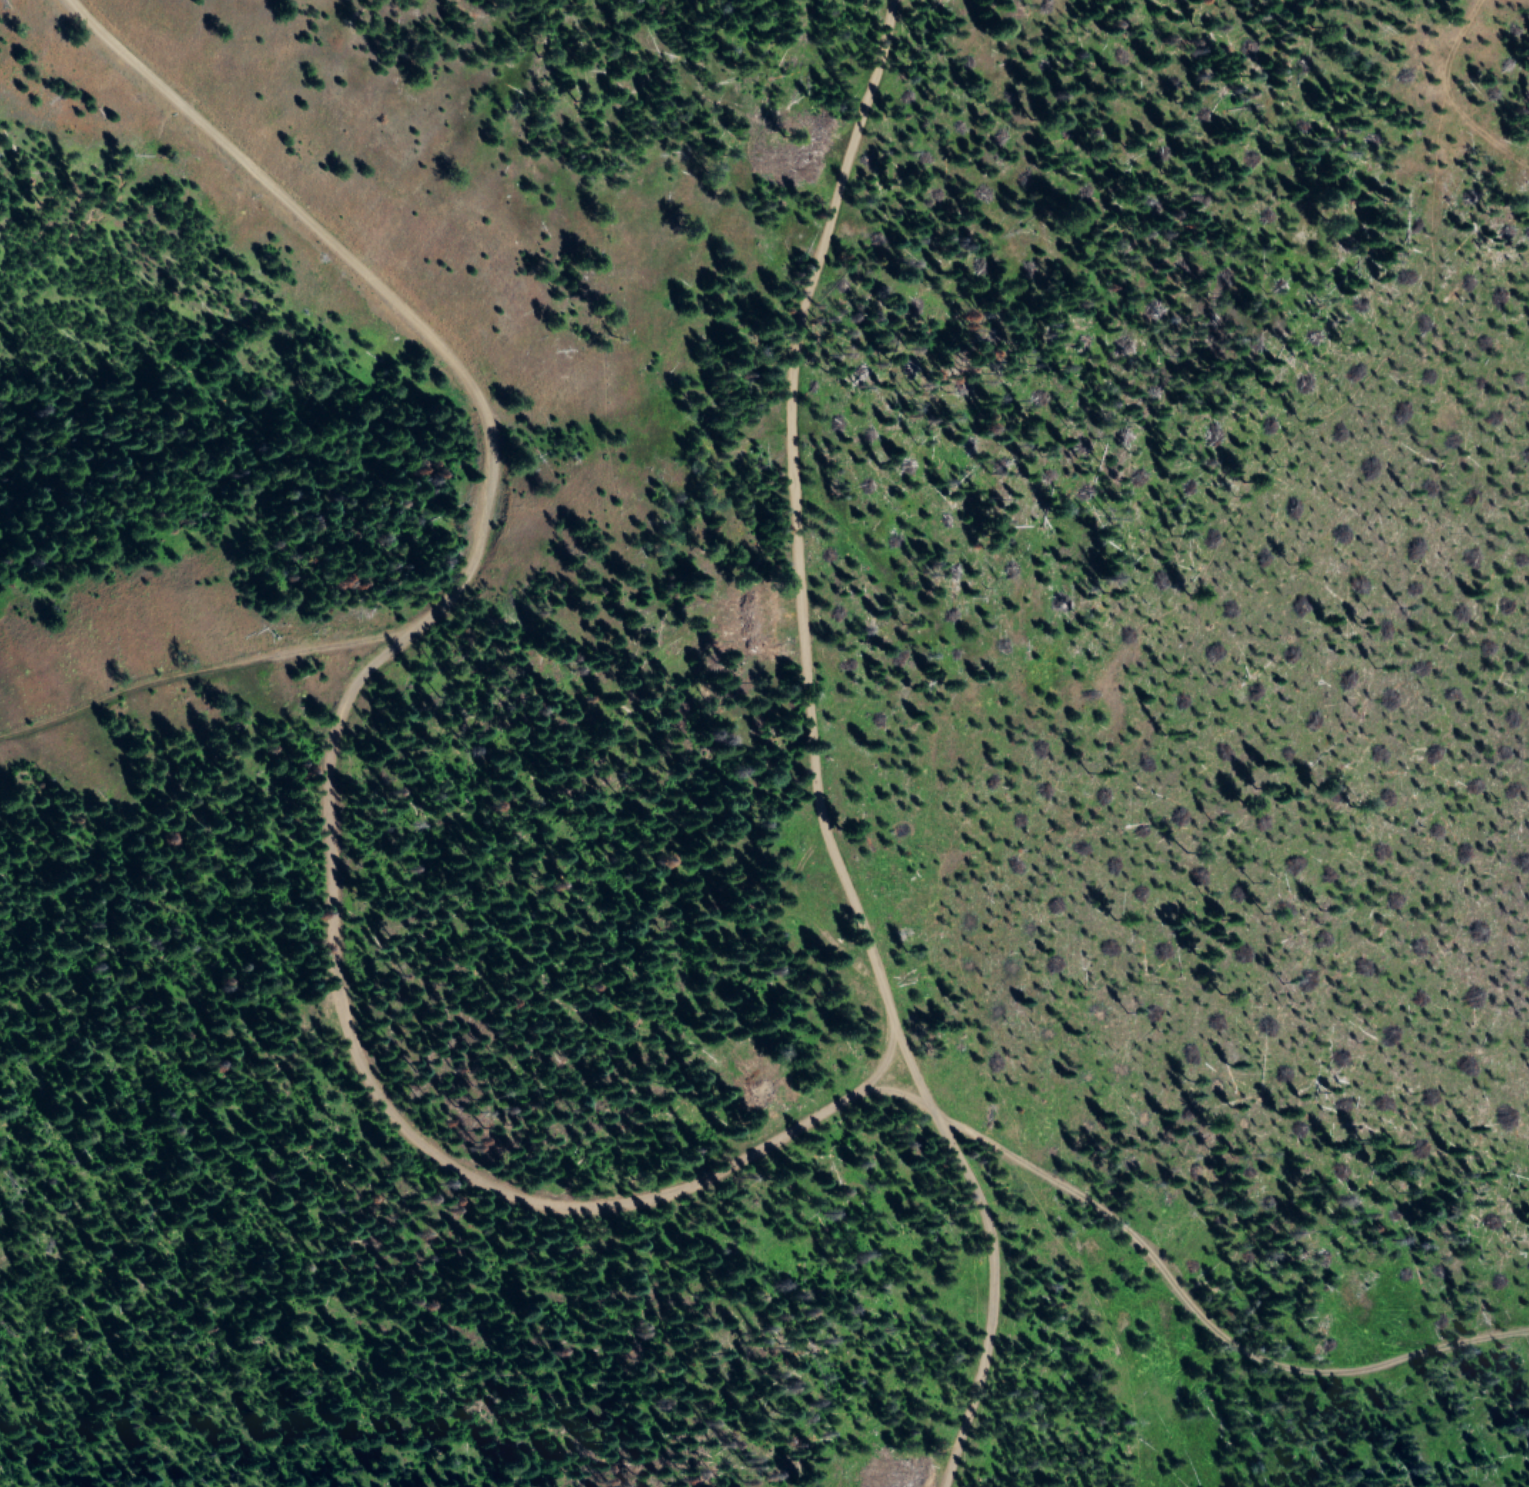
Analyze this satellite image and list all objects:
road: (1292, 0)
road: (866, 225)
road: (555, 249)
road: (329, 330)
road: (170, 692)
road: (920, 966)
road: (469, 1194)
road: (1242, 1346)

